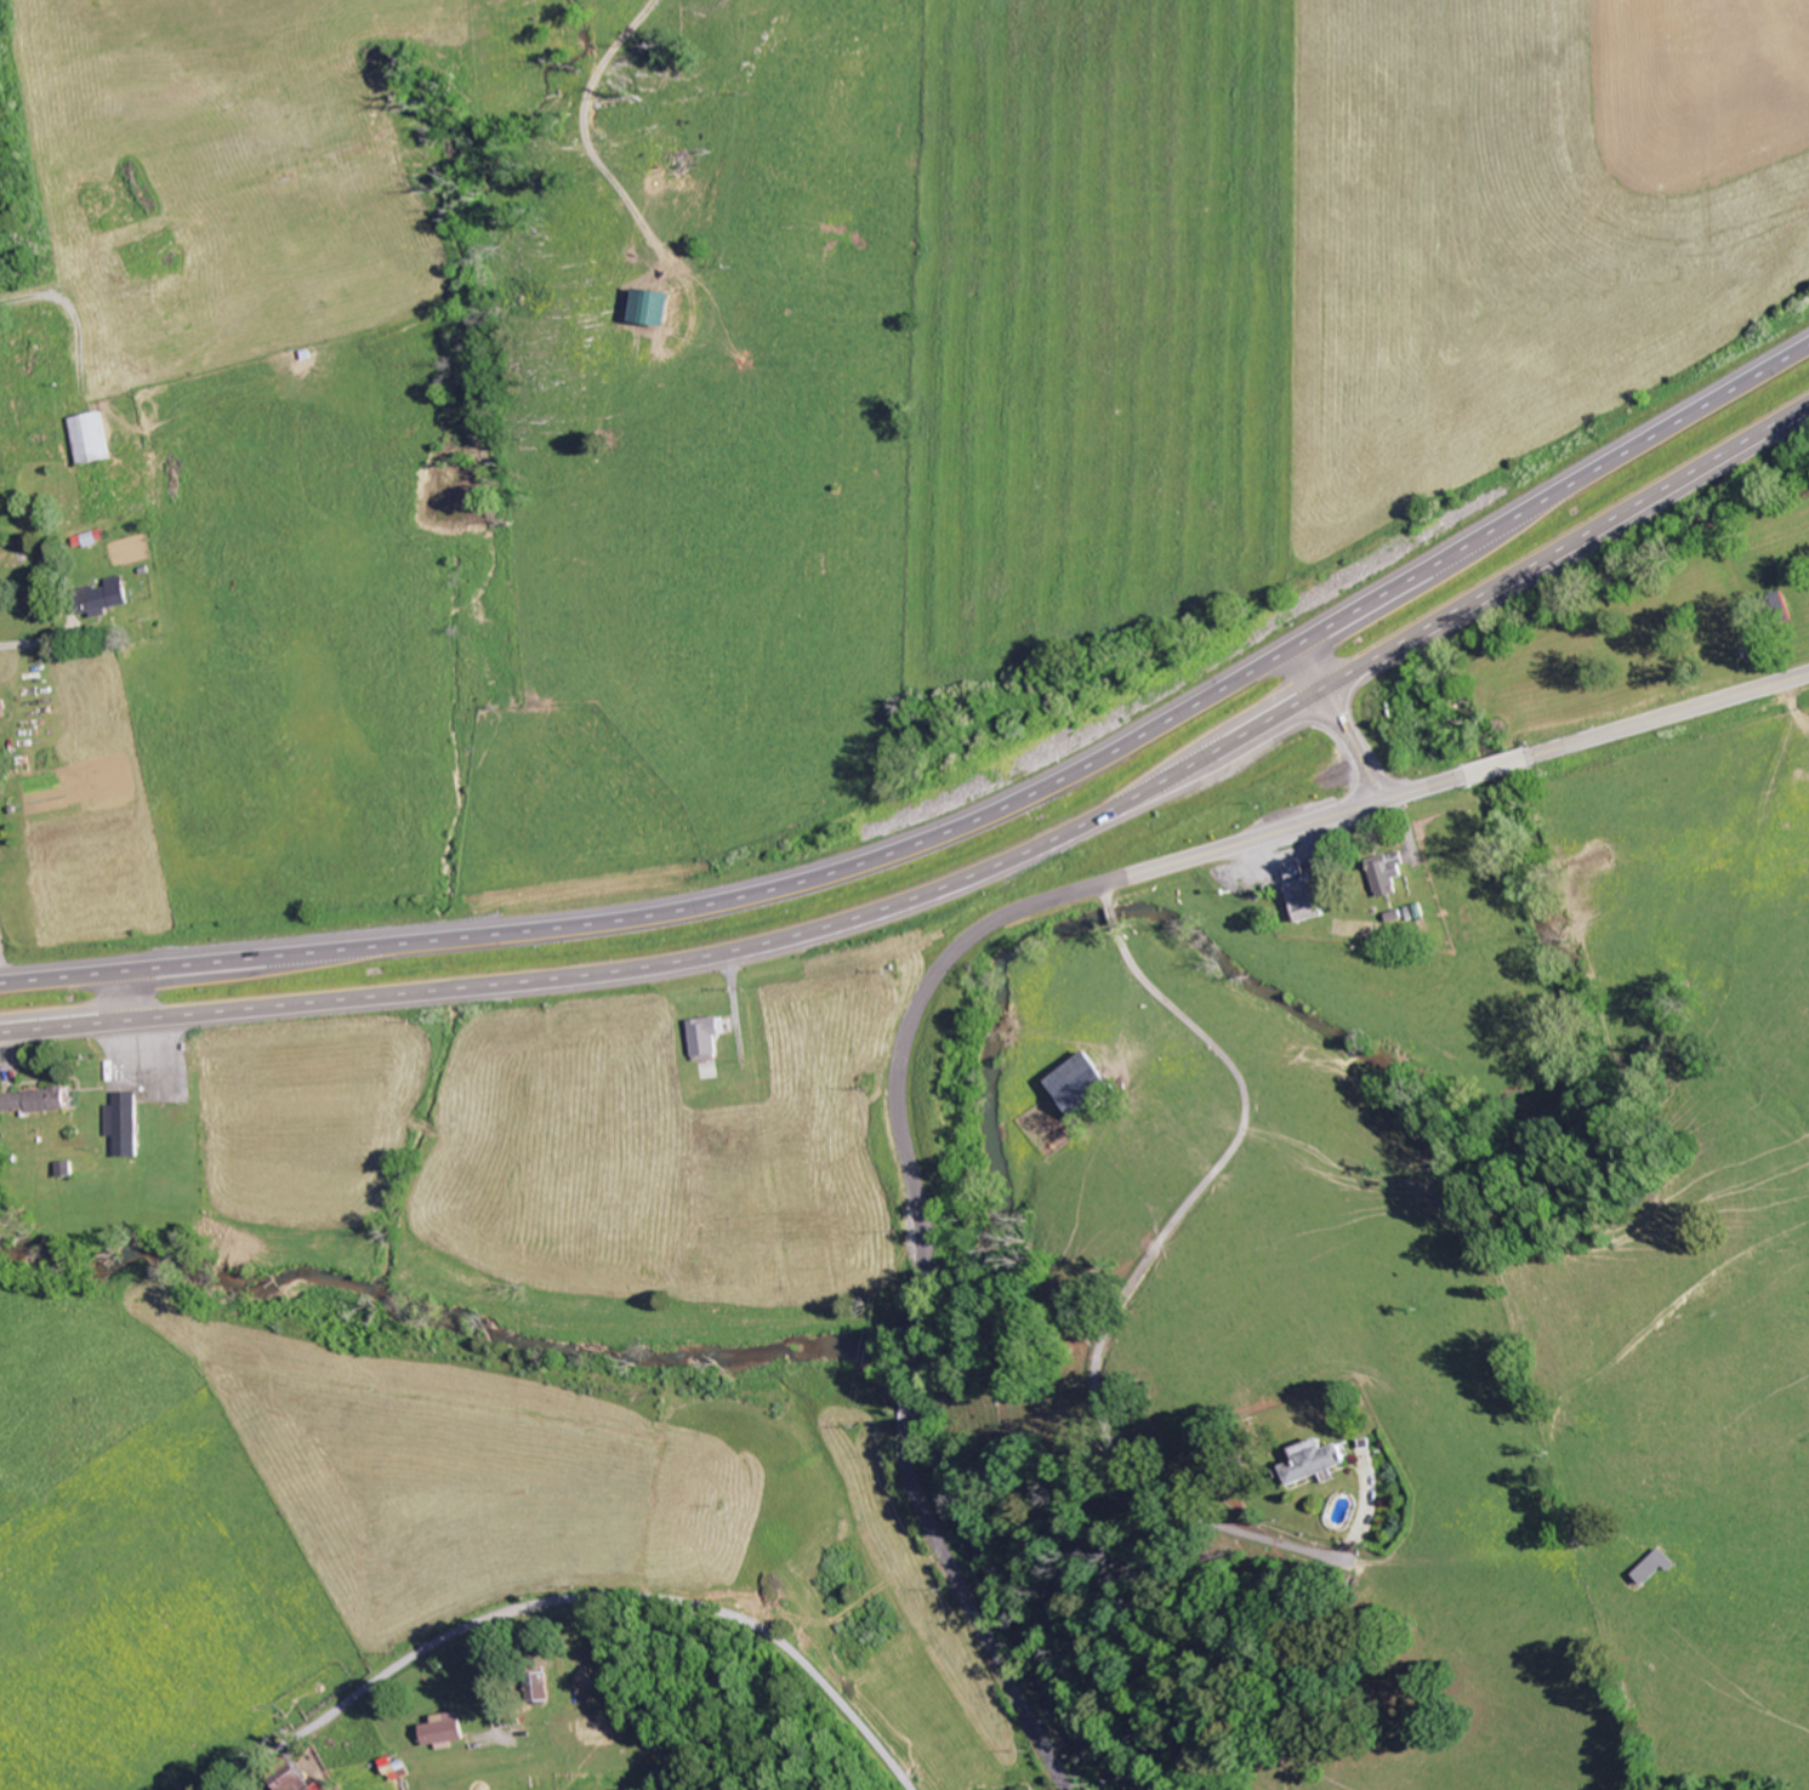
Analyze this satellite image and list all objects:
road: (41, 643)
road: (1312, 665)
road: (1595, 737)
road: (1354, 743)
road: (960, 828)
road: (1752, 834)
road: (958, 879)
road: (127, 996)
road: (906, 1155)
road: (1130, 1293)
road: (1549, 1430)
road: (573, 1597)

